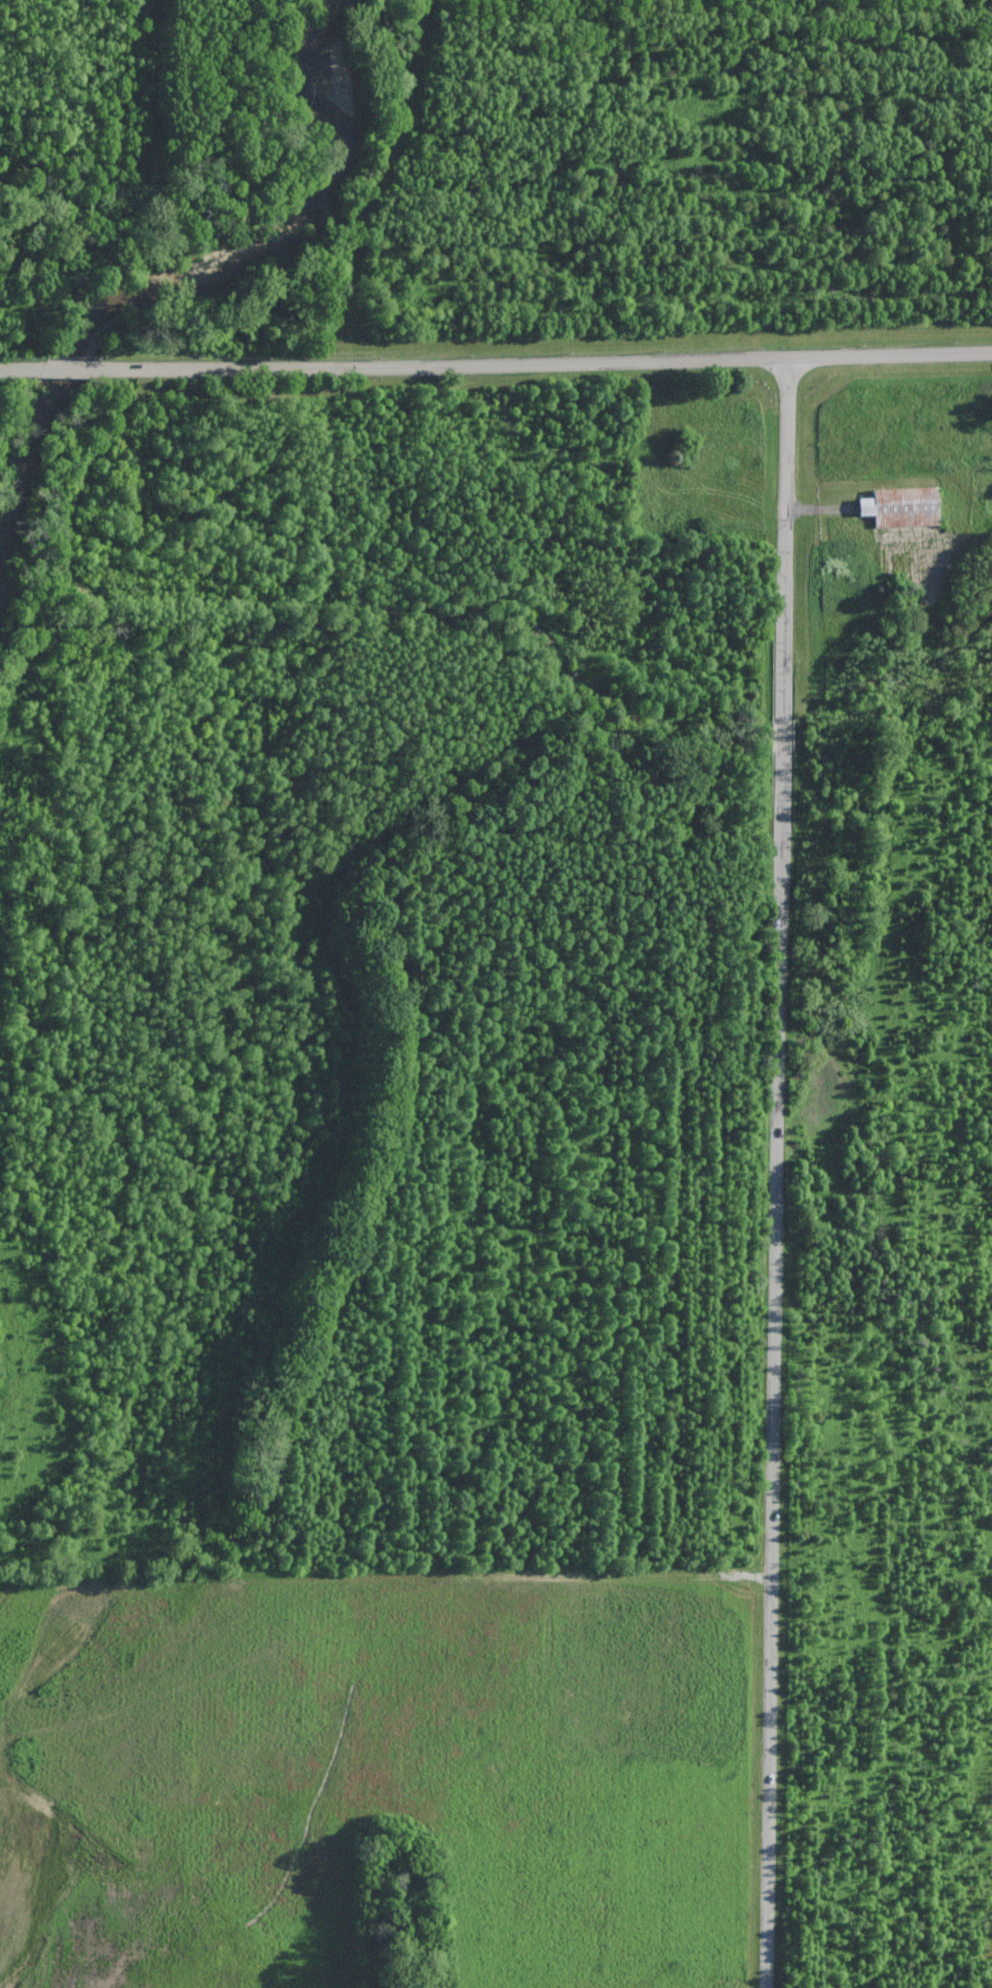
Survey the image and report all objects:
river: (185, 273)
road: (538, 361)
road: (20, 367)
road: (62, 367)
building: (902, 506)
road: (776, 1172)

